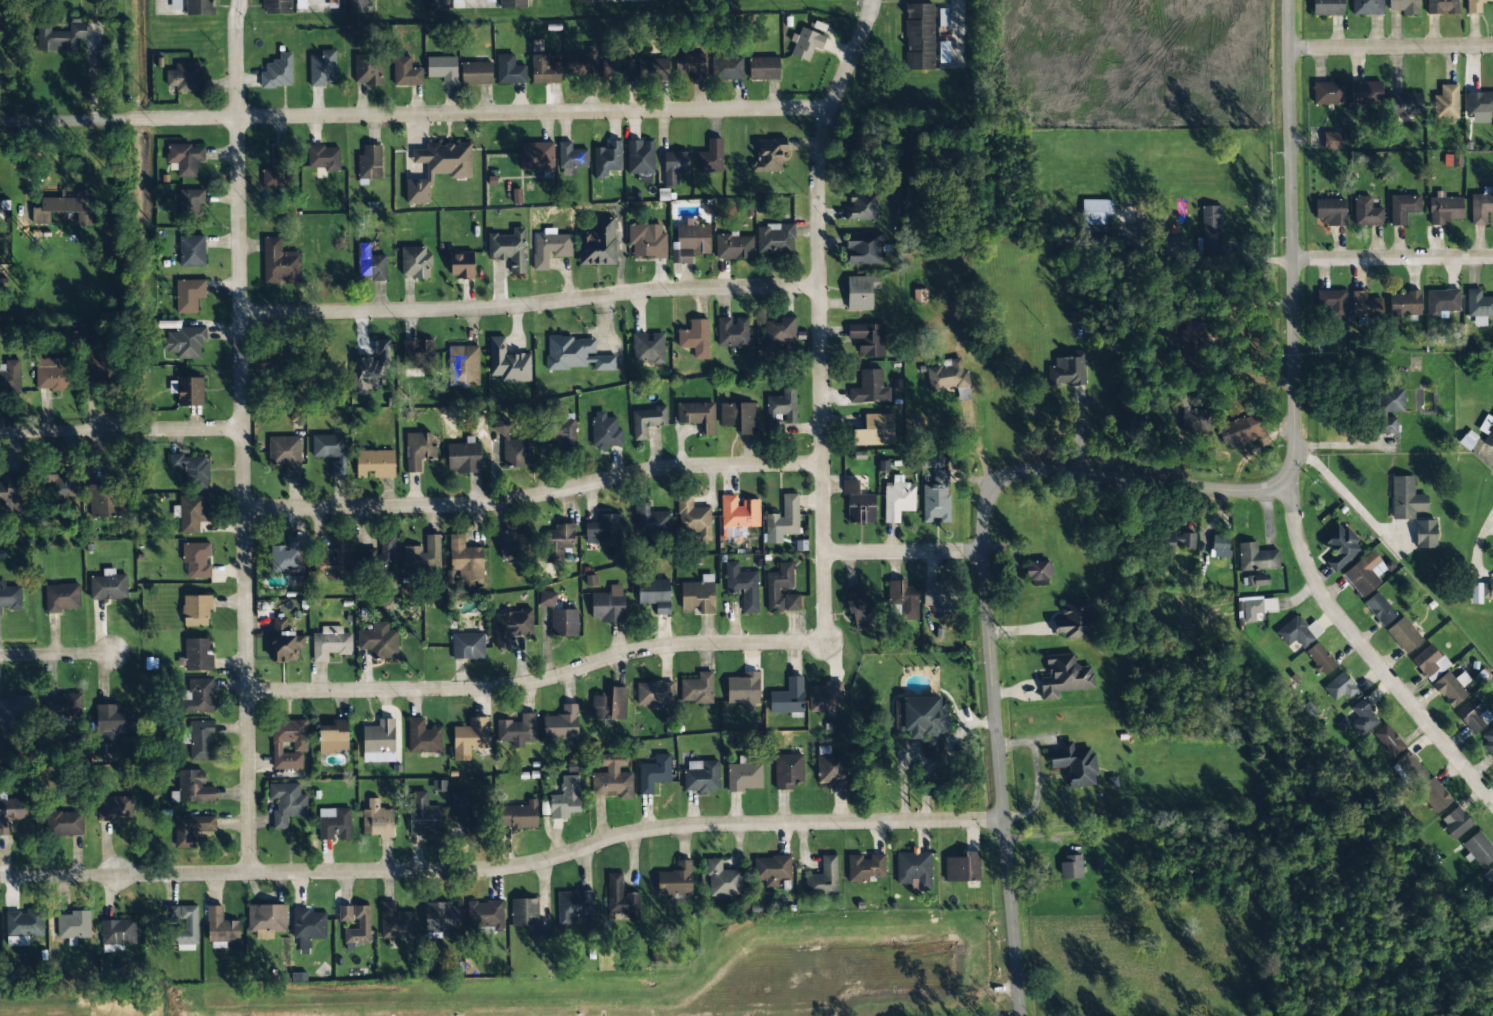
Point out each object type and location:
building: (736, 0)
building: (589, 1)
road: (474, 3)
road: (317, 4)
building: (431, 4)
building: (513, 4)
building: (175, 5)
building: (274, 6)
building: (355, 6)
building: (1404, 6)
building: (1474, 6)
road: (164, 7)
building: (198, 7)
building: (1327, 7)
building: (1367, 7)
building: (1441, 7)
road: (964, 34)
building: (919, 36)
building: (60, 37)
building: (806, 44)
road: (1392, 47)
building: (691, 65)
building: (582, 66)
building: (321, 68)
building: (726, 68)
building: (763, 68)
building: (441, 69)
building: (545, 69)
building: (652, 69)
building: (509, 70)
building: (617, 70)
building: (276, 71)
building: (367, 72)
building: (404, 72)
building: (476, 73)
building: (182, 77)
building: (1365, 92)
building: (1328, 93)
building: (1405, 104)
building: (1446, 105)
building: (1479, 106)
road: (417, 115)
building: (1333, 140)
building: (770, 154)
building: (537, 156)
building: (711, 157)
building: (322, 158)
building: (571, 159)
building: (607, 159)
building: (187, 160)
building: (640, 160)
building: (1452, 160)
building: (368, 162)
building: (674, 166)
building: (436, 167)
building: (278, 170)
building: (190, 205)
building: (861, 207)
building: (66, 208)
building: (1403, 208)
building: (1444, 209)
building: (1330, 211)
building: (1096, 215)
building: (1368, 216)
building: (1210, 229)
building: (775, 238)
building: (647, 241)
building: (690, 242)
road: (1293, 242)
building: (598, 245)
building: (734, 247)
building: (863, 248)
building: (509, 249)
building: (550, 249)
building: (191, 250)
road: (1393, 257)
building: (414, 261)
building: (278, 263)
building: (368, 264)
building: (461, 265)
building: (860, 292)
building: (189, 295)
building: (1442, 301)
road: (531, 303)
building: (1365, 304)
building: (1333, 305)
building: (1403, 306)
building: (1478, 307)
road: (820, 316)
building: (732, 332)
building: (780, 335)
building: (695, 338)
building: (1188, 338)
building: (868, 339)
building: (185, 342)
building: (648, 348)
building: (576, 354)
building: (416, 360)
building: (508, 362)
building: (97, 364)
building: (463, 365)
building: (372, 369)
building: (1067, 370)
building: (53, 374)
building: (946, 375)
building: (10, 376)
building: (869, 388)
building: (191, 393)
building: (783, 405)
building: (1388, 409)
building: (697, 416)
building: (738, 417)
building: (647, 421)
building: (563, 430)
building: (1487, 430)
road: (122, 431)
building: (605, 431)
building: (874, 431)
building: (1239, 432)
road: (244, 436)
building: (513, 446)
building: (417, 450)
building: (331, 452)
building: (286, 455)
building: (931, 460)
building: (375, 464)
building: (191, 469)
building: (60, 484)
building: (14, 491)
road: (535, 494)
building: (936, 498)
building: (898, 499)
building: (1405, 499)
building: (106, 501)
building: (858, 503)
building: (739, 512)
building: (192, 513)
building: (694, 518)
building: (650, 521)
building: (604, 530)
building: (1425, 534)
building: (1179, 541)
building: (559, 542)
building: (512, 544)
building: (1220, 546)
building: (1340, 547)
road: (905, 551)
building: (422, 554)
building: (286, 556)
building: (378, 556)
building: (1256, 558)
building: (331, 559)
building: (195, 560)
building: (464, 563)
building: (1038, 573)
building: (1365, 574)
building: (1257, 580)
building: (778, 586)
building: (107, 587)
building: (742, 587)
building: (1480, 592)
building: (655, 594)
building: (937, 594)
building: (9, 595)
building: (698, 595)
building: (61, 597)
building: (903, 598)
building: (547, 599)
road: (988, 599)
building: (791, 602)
building: (608, 605)
building: (1254, 607)
building: (859, 609)
building: (1379, 609)
building: (194, 610)
building: (1073, 620)
building: (563, 623)
building: (512, 626)
building: (1298, 632)
building: (1404, 635)
building: (377, 640)
building: (329, 644)
building: (285, 646)
building: (467, 646)
road: (1370, 653)
building: (196, 654)
road: (57, 655)
building: (1320, 659)
building: (1430, 662)
building: (1064, 677)
road: (538, 678)
building: (1339, 687)
building: (743, 688)
building: (1450, 688)
building: (697, 689)
building: (654, 693)
building: (196, 695)
building: (787, 697)
building: (825, 697)
building: (610, 704)
building: (61, 707)
building: (15, 709)
building: (1473, 715)
building: (1362, 718)
building: (921, 719)
building: (110, 721)
building: (561, 724)
building: (517, 730)
building: (331, 736)
building: (377, 737)
building: (421, 737)
building: (470, 738)
building: (200, 740)
building: (286, 740)
building: (1388, 740)
building: (1487, 740)
building: (1074, 763)
building: (830, 768)
building: (787, 771)
building: (654, 773)
building: (744, 775)
building: (701, 776)
building: (612, 778)
building: (1422, 783)
building: (192, 786)
building: (565, 798)
building: (285, 802)
building: (113, 808)
building: (461, 808)
building: (11, 812)
building: (518, 816)
building: (375, 819)
building: (423, 819)
building: (1455, 822)
building: (62, 823)
building: (333, 823)
building: (190, 828)
building: (1479, 849)
building: (1071, 867)
road: (505, 868)
building: (865, 868)
building: (913, 868)
building: (962, 868)
building: (771, 870)
building: (1489, 876)
building: (823, 878)
building: (676, 880)
building: (722, 880)
building: (621, 897)
building: (574, 906)
building: (524, 912)
building: (344, 914)
building: (485, 916)
building: (439, 917)
building: (266, 920)
building: (395, 922)
building: (23, 923)
building: (308, 924)
building: (72, 925)
building: (189, 926)
building: (220, 926)
building: (357, 928)
building: (117, 932)
building: (540, 935)
building: (17, 941)

